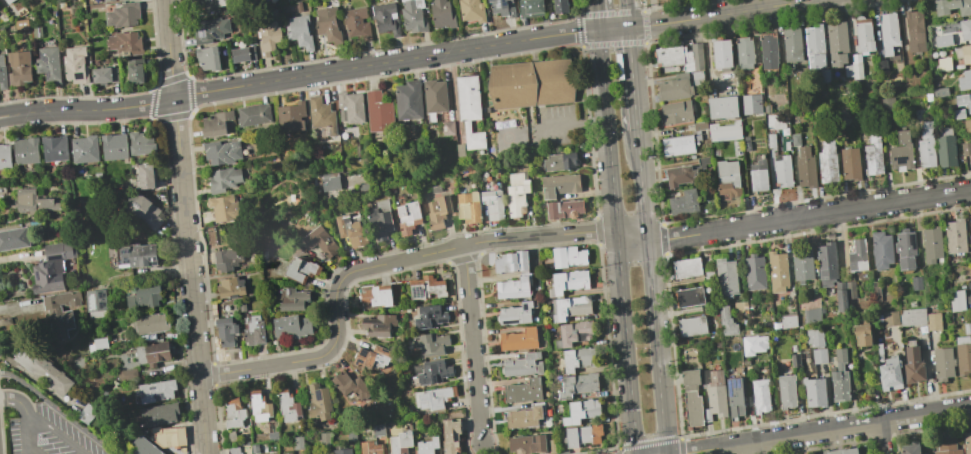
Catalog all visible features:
building: (108, 0)
building: (122, 0)
building: (486, 0)
building: (9, 1)
building: (210, 4)
rooftop solar panel: (511, 4)
building: (560, 6)
building: (952, 6)
building: (502, 7)
building: (530, 7)
rooftop solar panel: (497, 9)
building: (471, 10)
road: (626, 13)
building: (442, 14)
road: (597, 14)
building: (123, 15)
road: (718, 15)
building: (413, 16)
building: (386, 18)
building: (356, 23)
building: (328, 25)
traffic signals: (627, 28)
road: (612, 29)
building: (965, 29)
building: (210, 30)
traffic signals: (598, 30)
building: (915, 31)
building: (299, 32)
building: (888, 33)
building: (863, 34)
building: (268, 37)
building: (943, 41)
building: (125, 43)
building: (837, 43)
building: (791, 45)
building: (814, 46)
building: (768, 52)
building: (743, 53)
building: (242, 54)
building: (721, 54)
building: (963, 54)
building: (680, 57)
building: (207, 58)
building: (943, 64)
building: (48, 65)
building: (75, 65)
building: (882, 66)
building: (856, 67)
building: (19, 68)
building: (135, 71)
building: (2, 73)
building: (104, 75)
road: (299, 75)
road: (631, 78)
building: (697, 78)
building: (965, 80)
building: (533, 85)
building: (674, 88)
building: (939, 92)
building: (434, 98)
building: (408, 100)
building: (964, 101)
building: (750, 104)
building: (887, 104)
building: (349, 107)
building: (722, 107)
building: (468, 110)
building: (379, 112)
building: (675, 113)
building: (253, 114)
building: (958, 114)
building: (321, 115)
building: (291, 117)
building: (215, 123)
building: (700, 126)
building: (967, 126)
parking lot: (553, 127)
road: (569, 127)
building: (448, 129)
building: (725, 131)
building: (770, 140)
building: (795, 140)
building: (141, 143)
building: (746, 143)
building: (677, 145)
building: (114, 146)
building: (54, 148)
building: (927, 148)
building: (945, 148)
building: (84, 149)
building: (966, 149)
building: (26, 151)
building: (901, 151)
building: (221, 152)
building: (872, 152)
building: (5, 156)
building: (559, 162)
building: (702, 162)
building: (827, 162)
building: (850, 164)
building: (805, 168)
building: (782, 171)
building: (679, 175)
building: (758, 175)
building: (146, 177)
building: (728, 178)
building: (225, 179)
building: (330, 184)
building: (559, 185)
road: (181, 188)
building: (516, 194)
building: (34, 201)
building: (683, 202)
building: (492, 204)
building: (467, 207)
building: (223, 209)
building: (563, 209)
building: (144, 211)
building: (438, 212)
road: (808, 217)
building: (408, 218)
building: (380, 219)
building: (970, 221)
building: (350, 231)
road: (632, 236)
building: (955, 236)
building: (14, 238)
building: (970, 240)
building: (320, 241)
road: (618, 241)
building: (931, 244)
building: (881, 250)
building: (905, 250)
building: (59, 251)
building: (139, 255)
building: (857, 256)
rooftop solar panel: (52, 257)
building: (568, 257)
building: (227, 259)
building: (511, 262)
building: (826, 264)
road: (374, 265)
building: (801, 265)
building: (686, 267)
building: (300, 270)
building: (754, 272)
building: (777, 272)
building: (47, 276)
building: (726, 277)
building: (568, 282)
building: (916, 283)
building: (230, 287)
building: (426, 288)
building: (512, 288)
building: (850, 289)
rooftop solar panel: (418, 291)
road: (651, 291)
building: (375, 295)
building: (143, 296)
building: (841, 296)
building: (689, 297)
building: (292, 299)
building: (61, 300)
building: (94, 300)
rooftop solar panel: (689, 300)
building: (956, 300)
building: (570, 307)
building: (740, 307)
building: (516, 314)
building: (812, 315)
building: (429, 317)
building: (912, 317)
building: (890, 319)
building: (5, 321)
building: (726, 321)
building: (788, 321)
building: (933, 322)
building: (148, 323)
building: (59, 324)
building: (378, 325)
building: (692, 326)
building: (291, 327)
building: (967, 328)
building: (226, 331)
building: (254, 332)
building: (574, 334)
building: (862, 334)
building: (815, 338)
building: (519, 340)
building: (98, 344)
building: (430, 344)
road: (472, 344)
building: (753, 344)
building: (879, 352)
building: (152, 354)
building: (963, 355)
building: (819, 356)
building: (372, 357)
building: (578, 359)
building: (794, 360)
building: (942, 364)
building: (523, 365)
building: (913, 366)
building: (41, 368)
building: (432, 371)
building: (127, 375)
building: (890, 375)
building: (840, 378)
building: (690, 379)
building: (577, 384)
rooftop solar panel: (734, 384)
building: (349, 385)
rooftop solar panel: (739, 386)
building: (154, 391)
building: (523, 391)
rooftop solar panel: (730, 391)
building: (787, 391)
building: (814, 391)
rooftop solar panel: (141, 394)
building: (714, 394)
rooftop solar panel: (157, 396)
rooftop solar panel: (318, 396)
building: (760, 396)
building: (434, 398)
building: (734, 398)
road: (17, 401)
building: (318, 403)
building: (288, 406)
building: (259, 407)
building: (693, 408)
road: (59, 410)
building: (582, 411)
building: (87, 414)
building: (157, 414)
building: (235, 414)
road: (201, 416)
building: (525, 417)
road: (40, 420)
building: (378, 430)
road: (826, 430)
parking lot: (48, 434)
building: (582, 435)
building: (168, 436)
building: (451, 436)
road: (883, 438)
building: (325, 439)
traffic signals: (636, 440)
building: (298, 442)
building: (400, 442)
building: (967, 442)
building: (527, 443)
building: (427, 446)
building: (552, 446)
building: (946, 446)
building: (144, 447)
building: (254, 448)
building: (370, 448)
building: (245, 449)
road: (483, 449)
building: (909, 449)
building: (233, 451)
building: (342, 451)
park: (489, 451)
building: (840, 451)
traffic signals: (686, 453)

